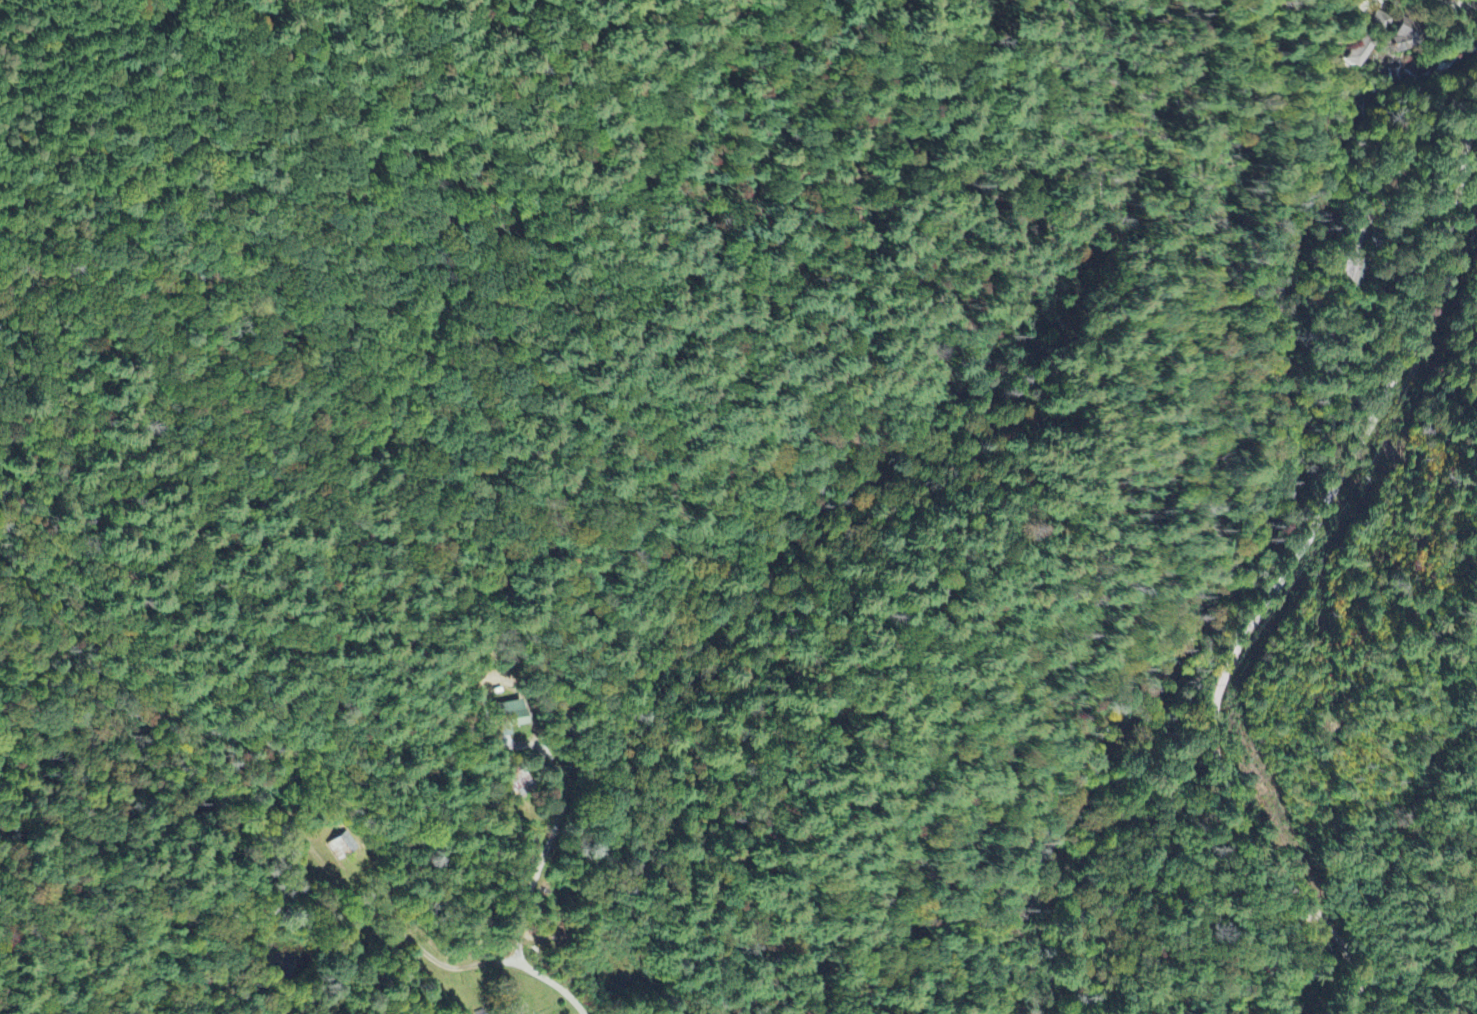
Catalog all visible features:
road: (1452, 6)
building: (1378, 23)
road: (1287, 578)
building: (510, 719)
road: (550, 847)
road: (554, 986)

